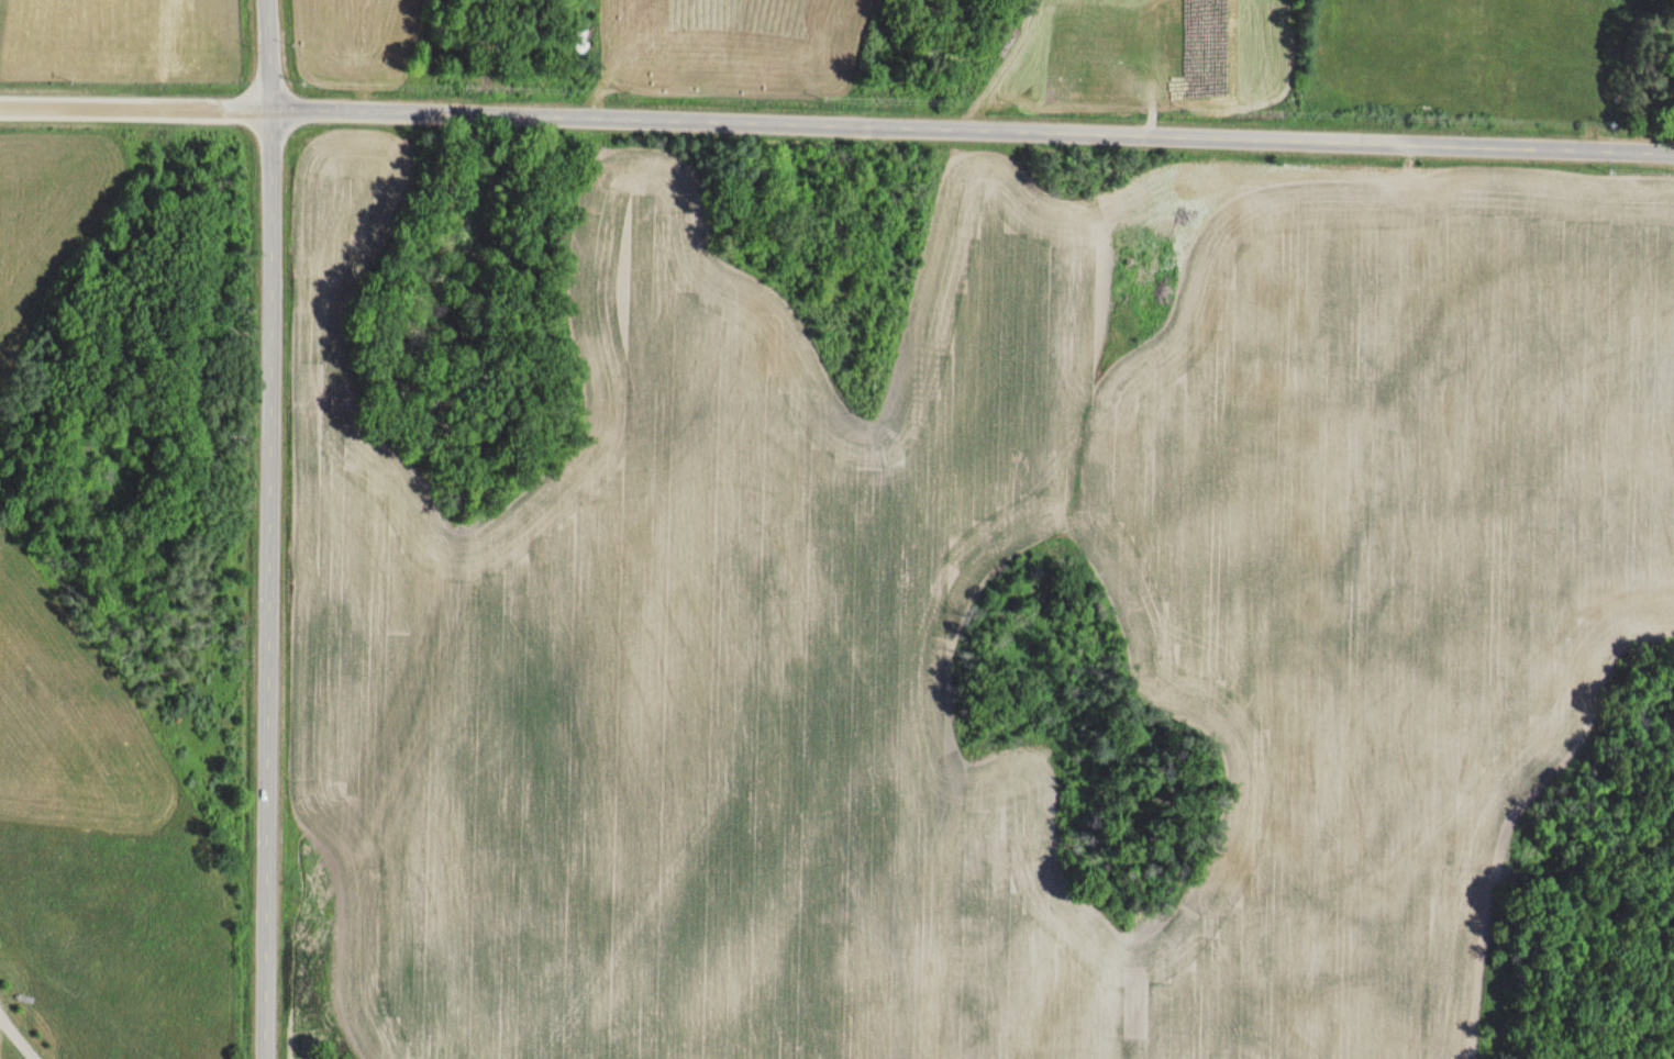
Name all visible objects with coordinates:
road: (267, 55)
road: (135, 109)
road: (972, 131)
road: (266, 584)

